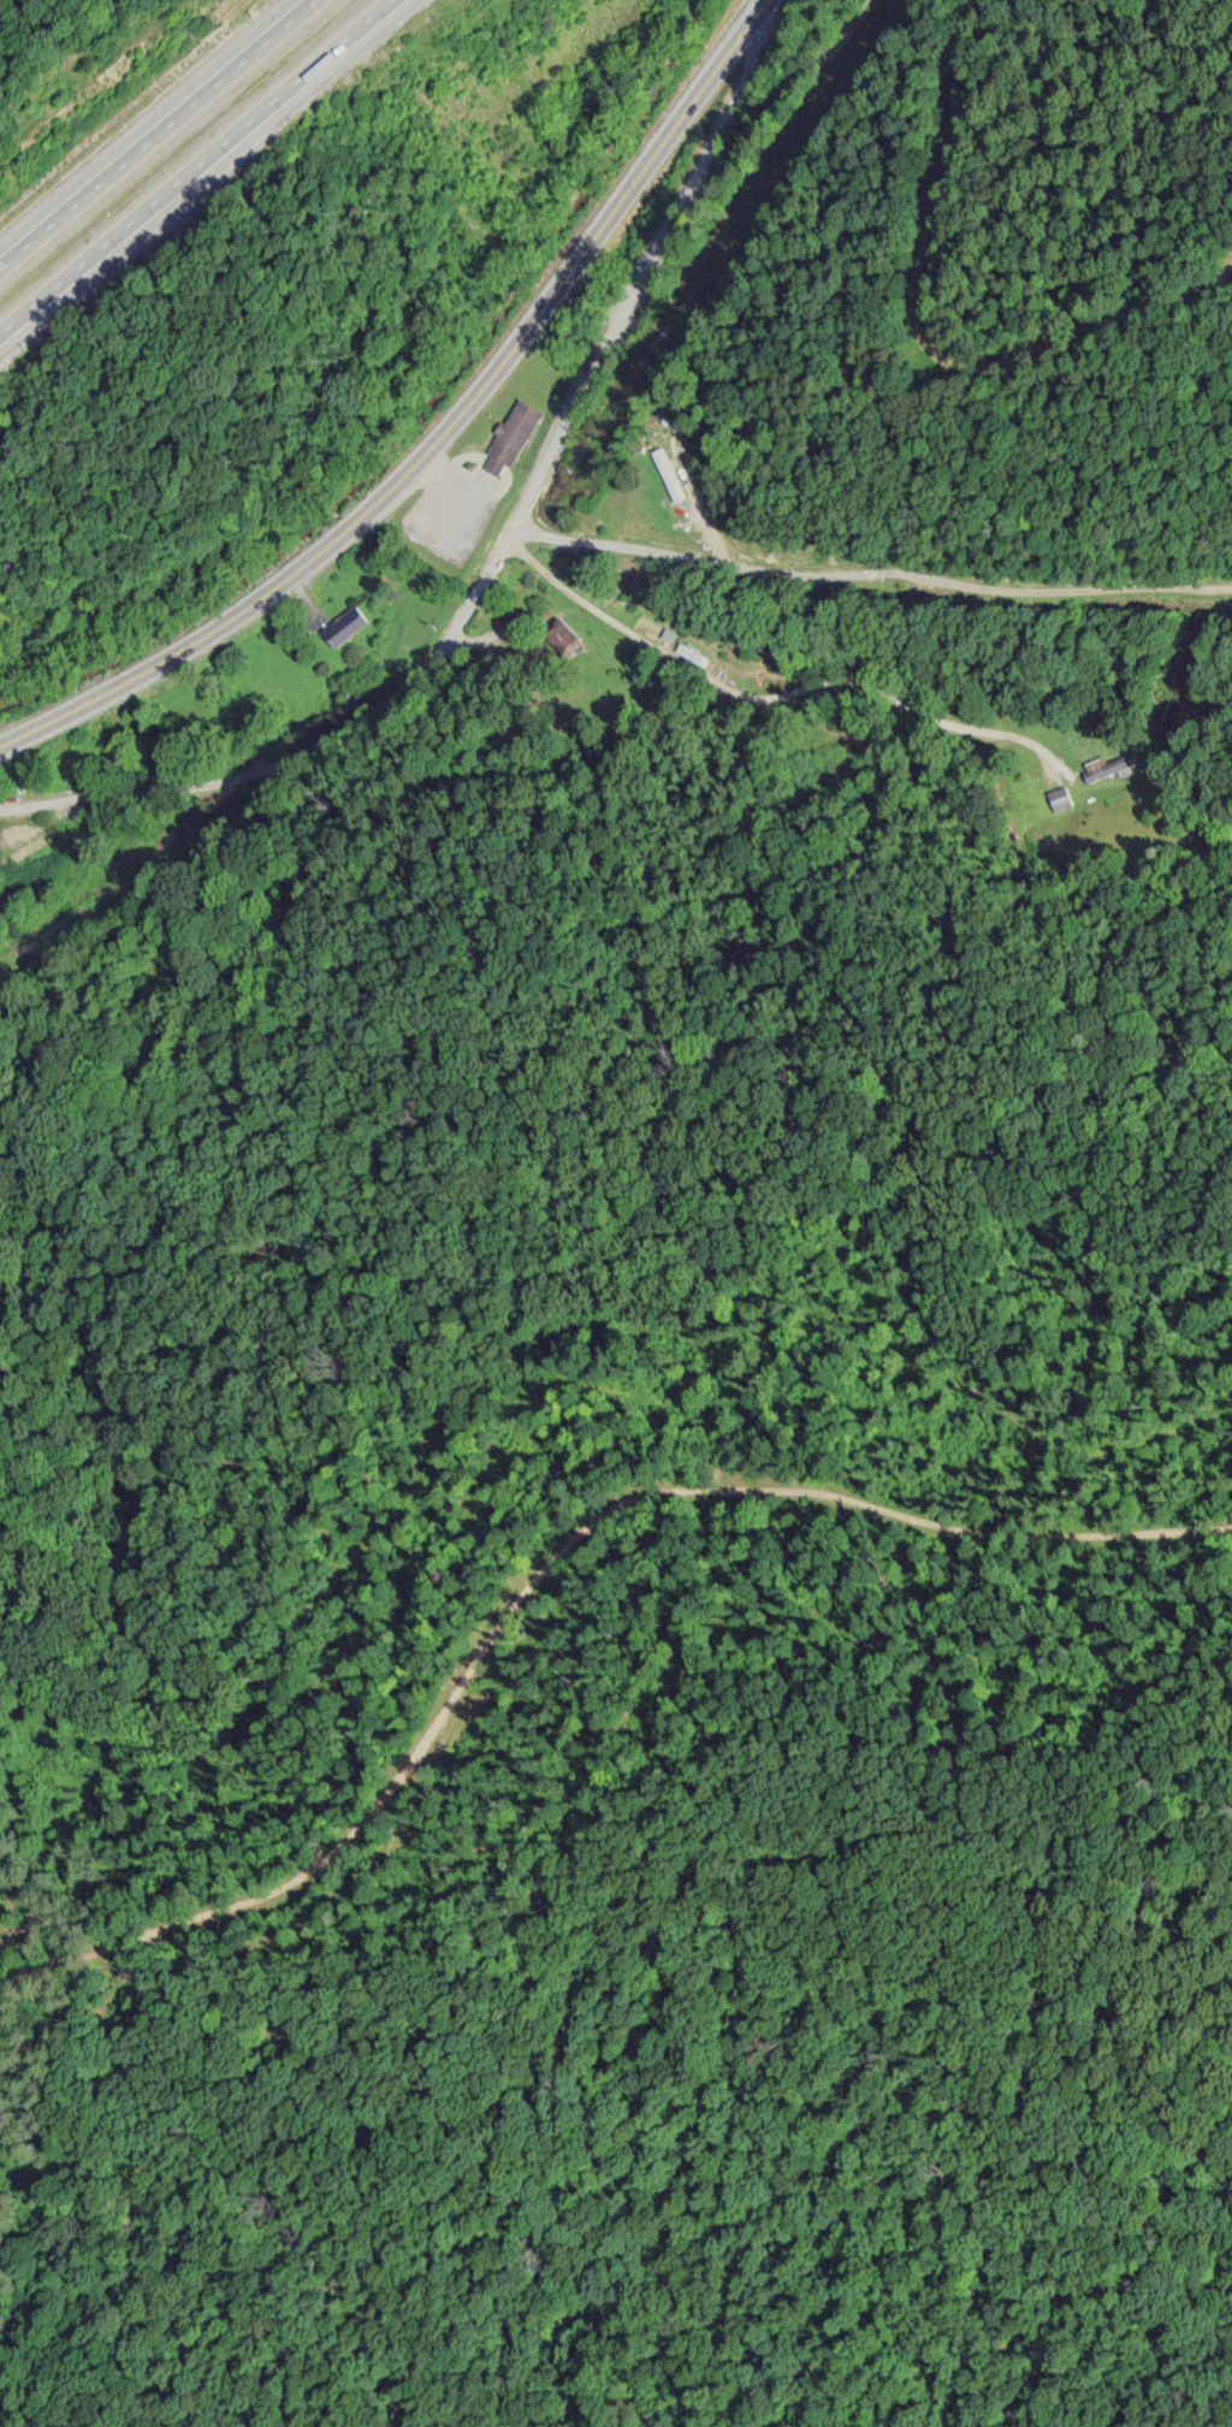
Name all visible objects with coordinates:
road: (153, 130)
road: (194, 165)
road: (442, 434)
building: (509, 437)
road: (499, 546)
road: (718, 570)
building: (343, 624)
road: (539, 1565)

